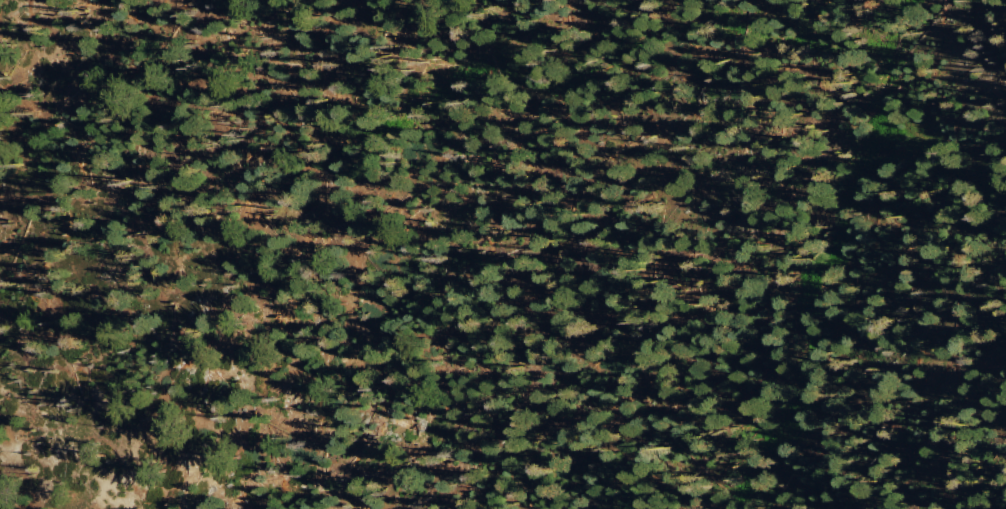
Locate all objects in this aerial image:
road: (840, 115)

